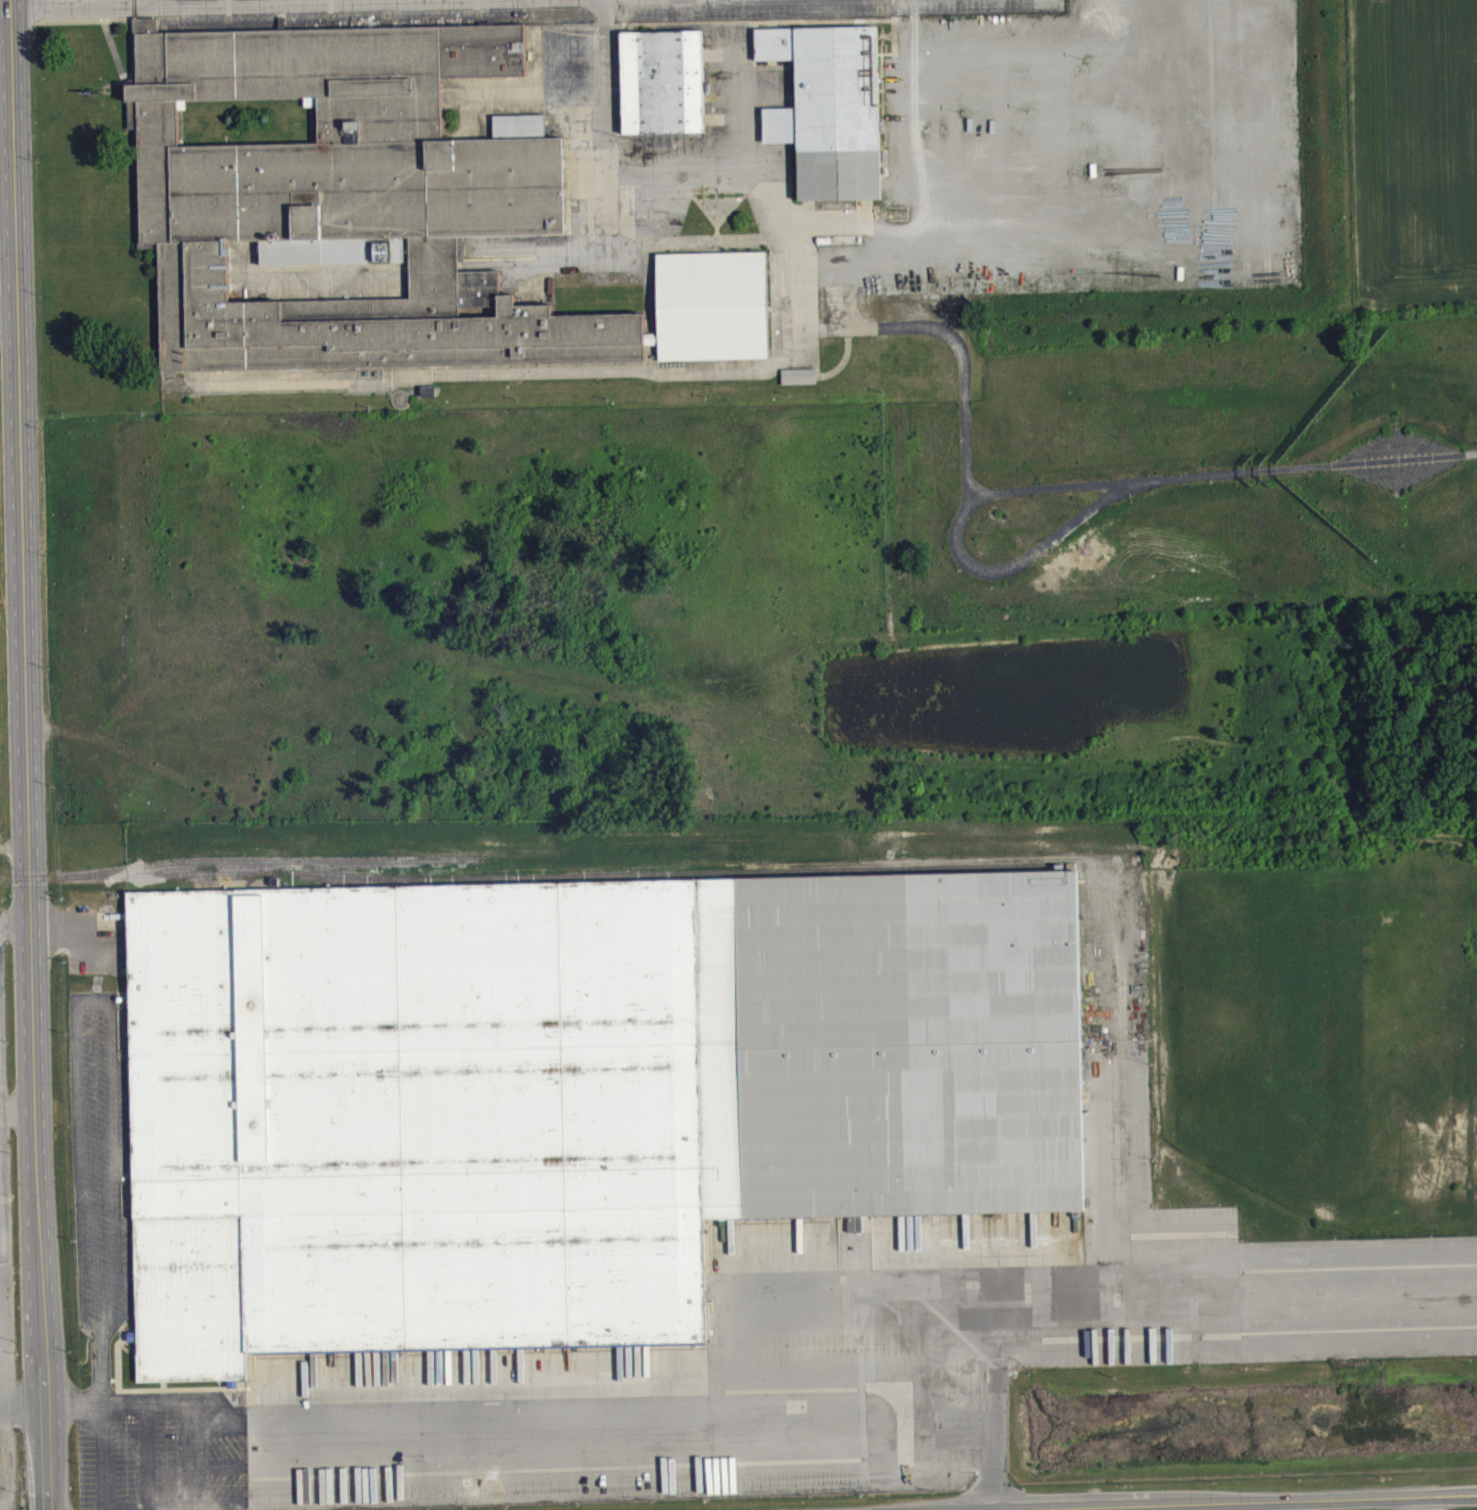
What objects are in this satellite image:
road: (156, 2)
road: (297, 2)
road: (84, 6)
building: (661, 80)
building: (828, 107)
building: (375, 209)
building: (800, 385)
road: (27, 755)
road: (15, 920)
road: (61, 947)
road: (94, 1014)
building: (569, 1093)
road: (79, 1168)
road: (116, 1176)
parking lot: (4, 1234)
parking lot: (759, 1324)
road: (1199, 1325)
road: (90, 1335)
road: (100, 1371)
road: (24, 1413)
road: (560, 1426)
road: (194, 1463)
parking lot: (7, 1470)
road: (1194, 1501)

